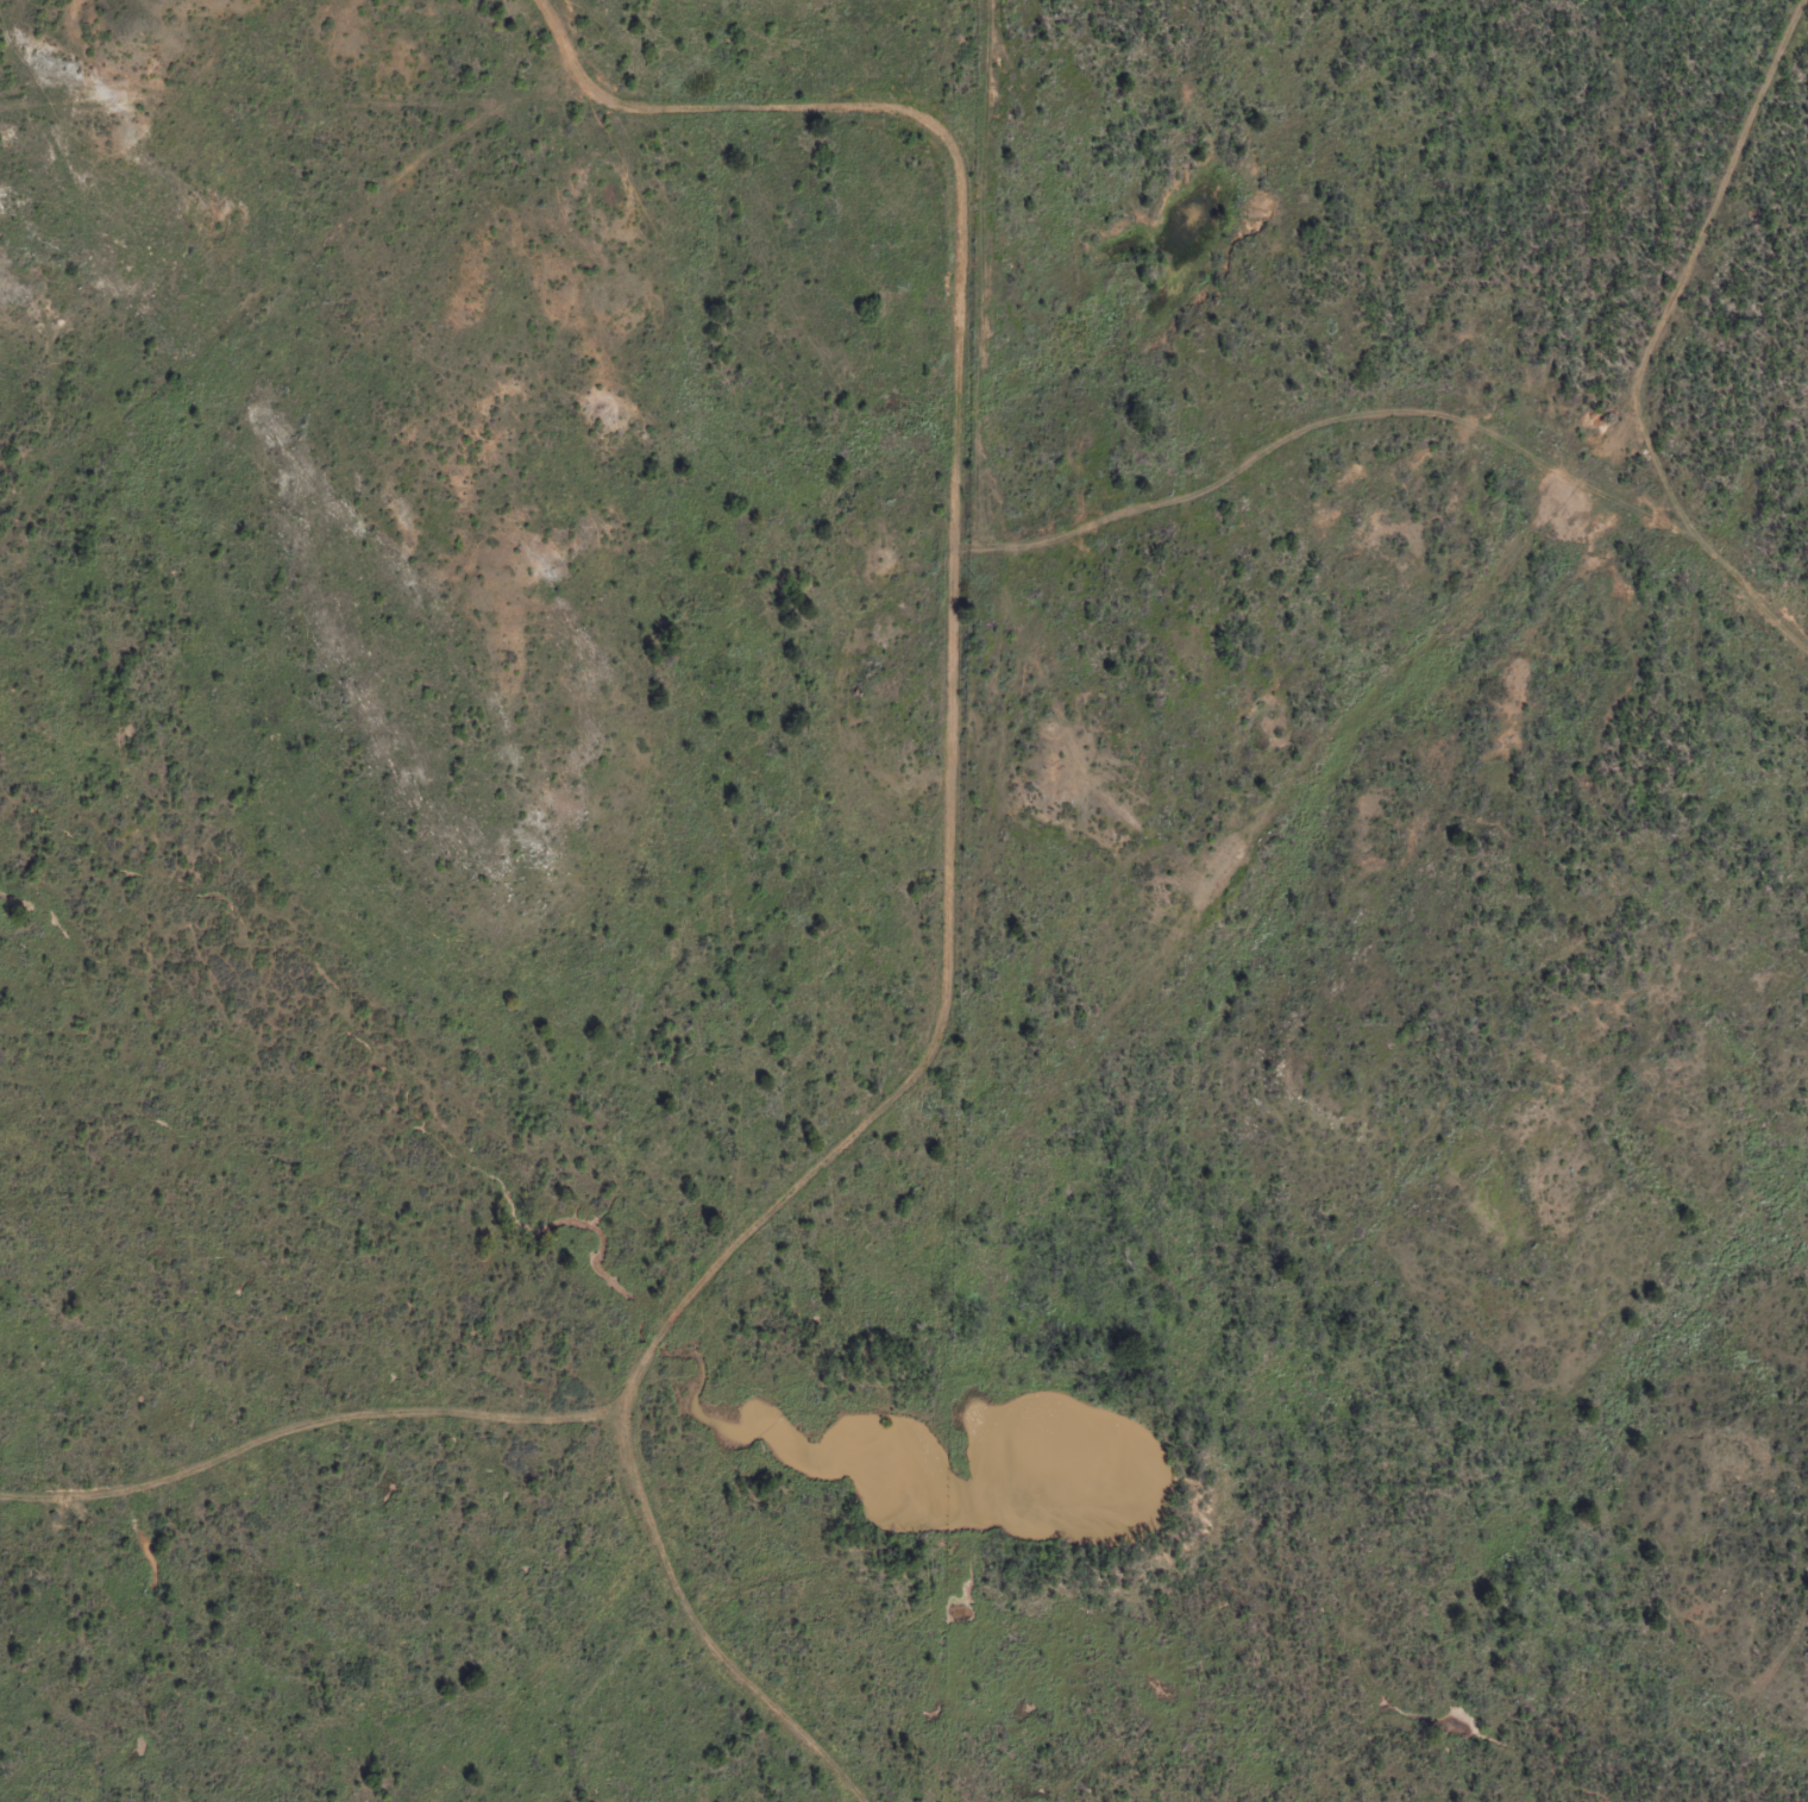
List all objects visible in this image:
road: (300, 82)
road: (285, 271)
road: (1650, 375)
road: (1292, 469)
road: (948, 828)

